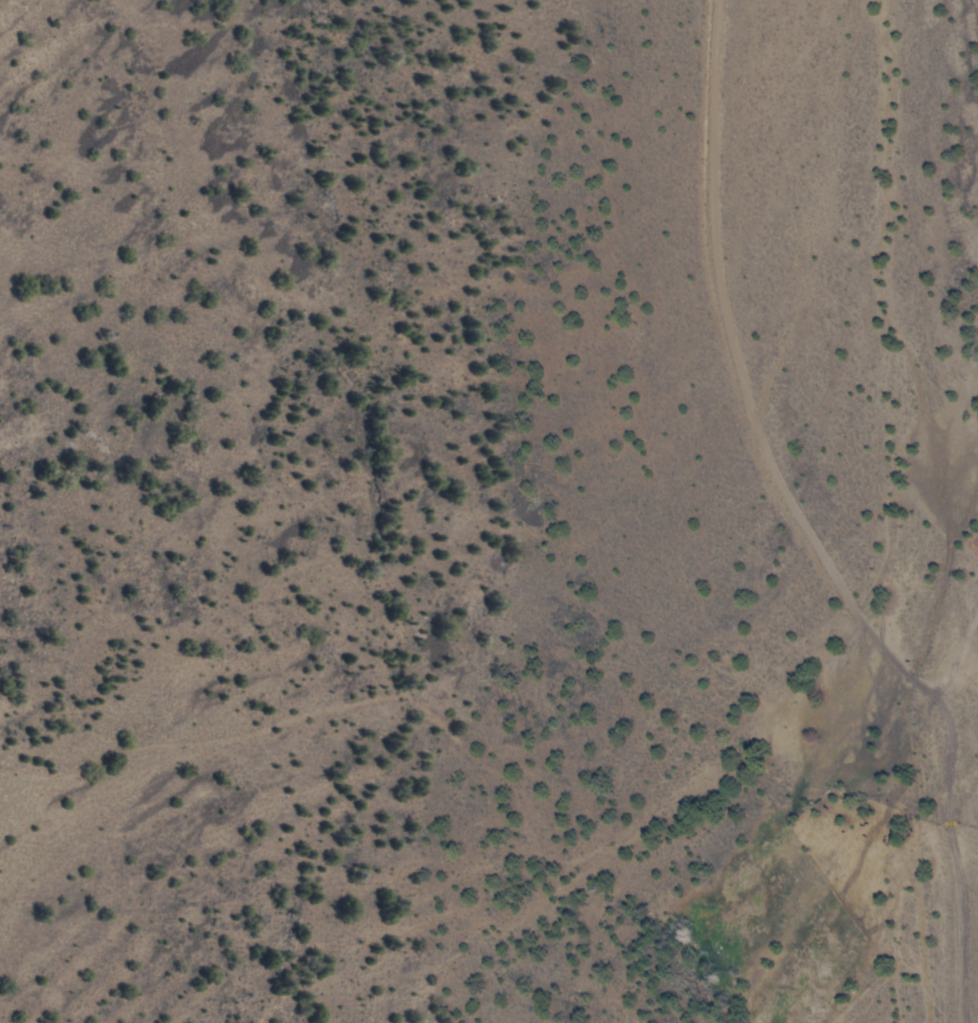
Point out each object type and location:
road: (811, 527)
road: (959, 652)

